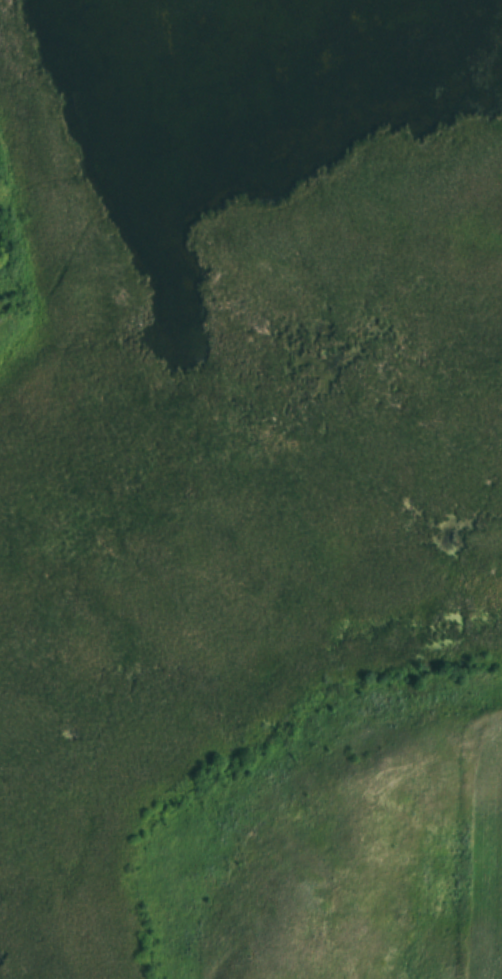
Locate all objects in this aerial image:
park: (250, 74)

